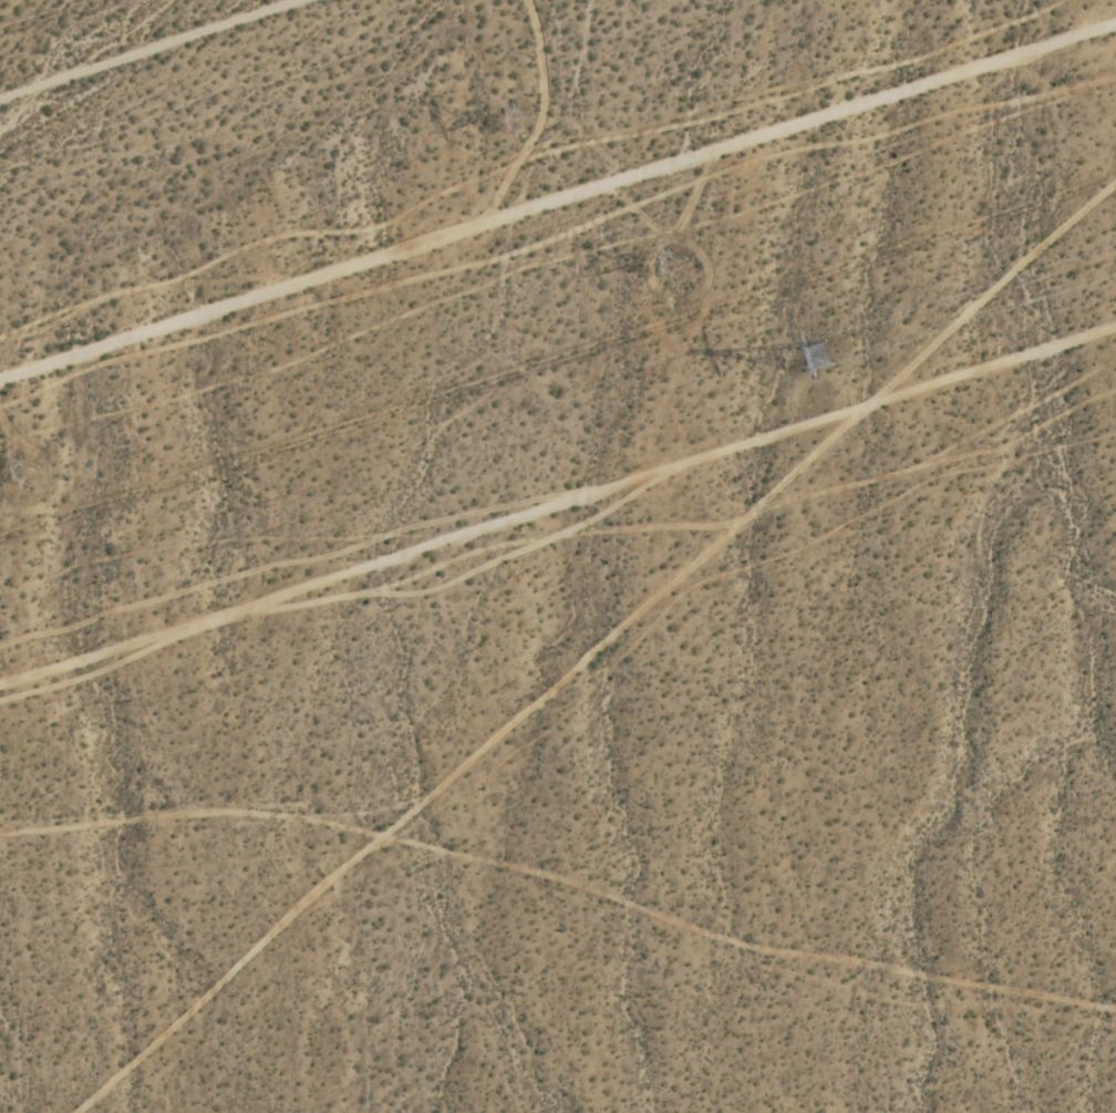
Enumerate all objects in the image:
power tower: (521, 123)
road: (557, 184)
power tower: (679, 262)
power tower: (827, 351)
power tower: (29, 473)
road: (558, 496)
road: (590, 645)
road: (560, 879)

